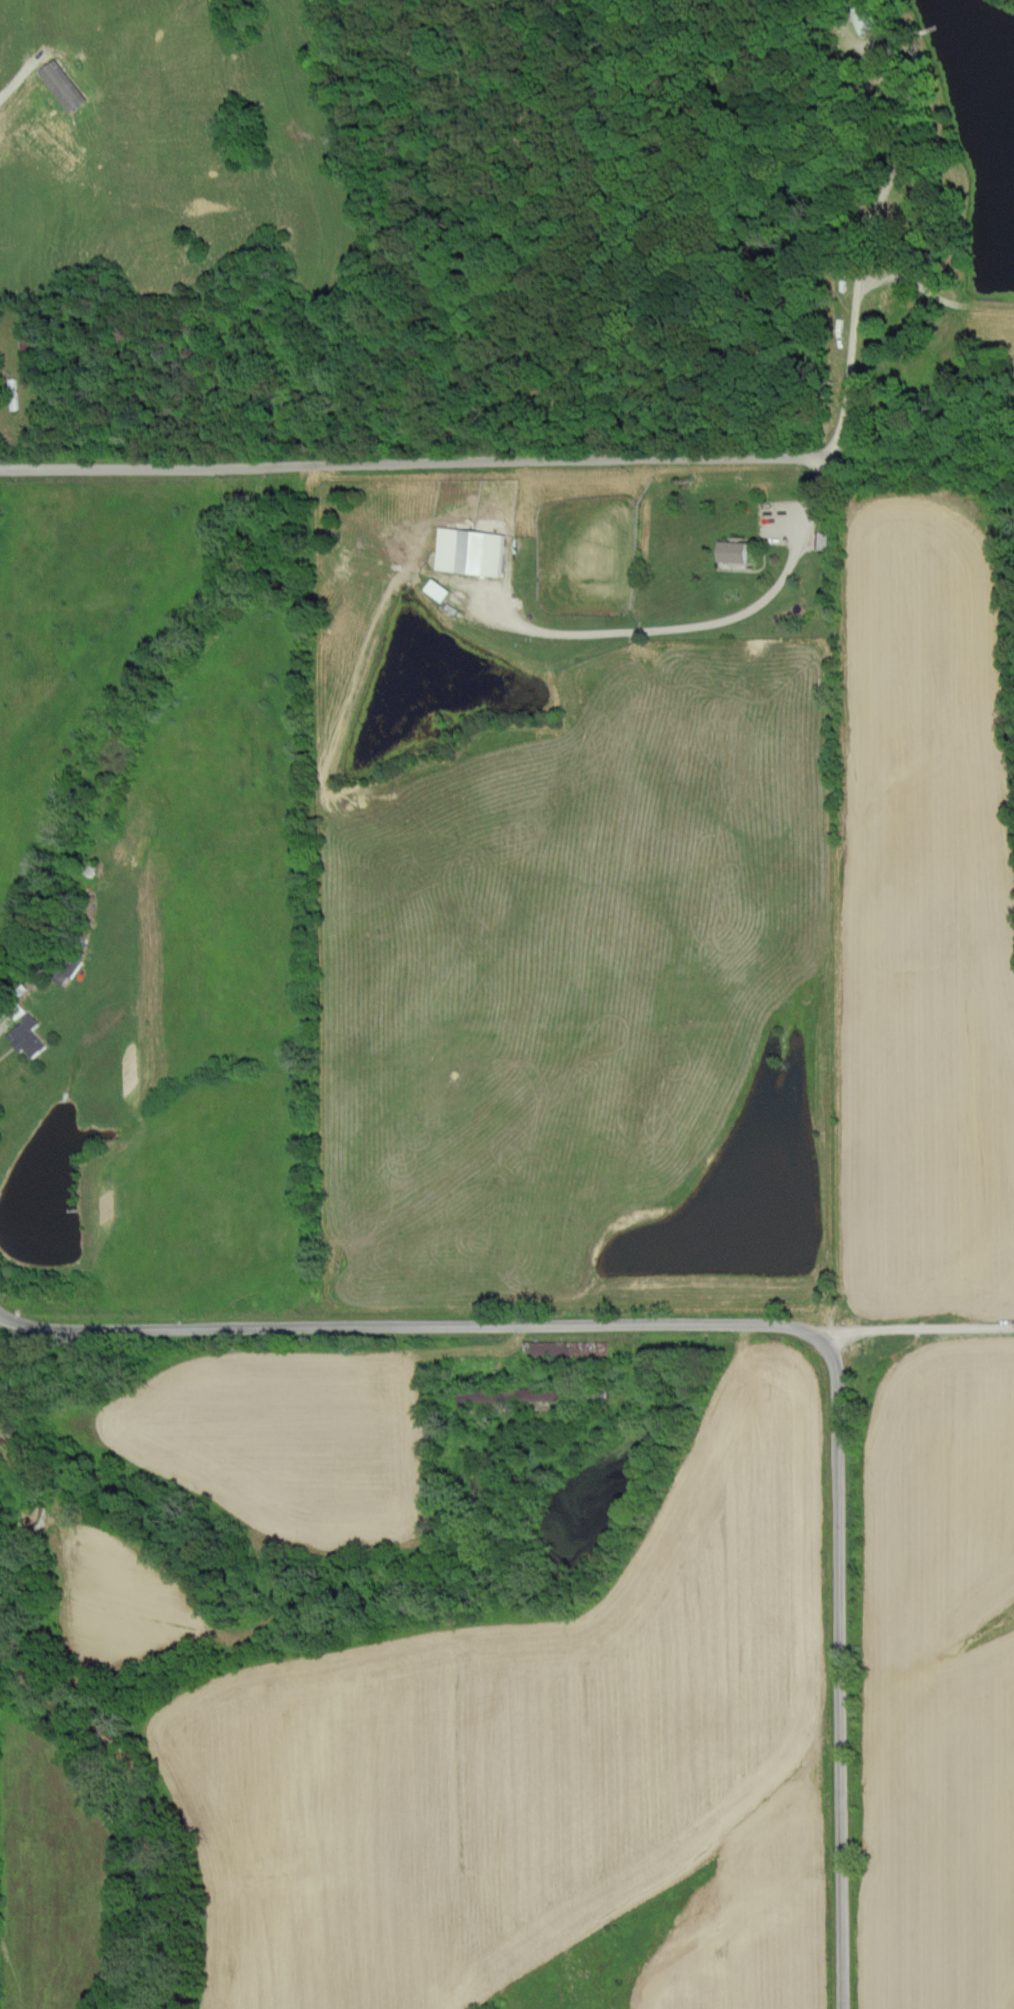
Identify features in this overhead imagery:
building: (867, 19)
building: (59, 84)
road: (484, 455)
building: (467, 549)
building: (730, 549)
building: (434, 588)
building: (26, 1035)
road: (496, 1311)
crop: (116, 1592)
road: (844, 1753)

